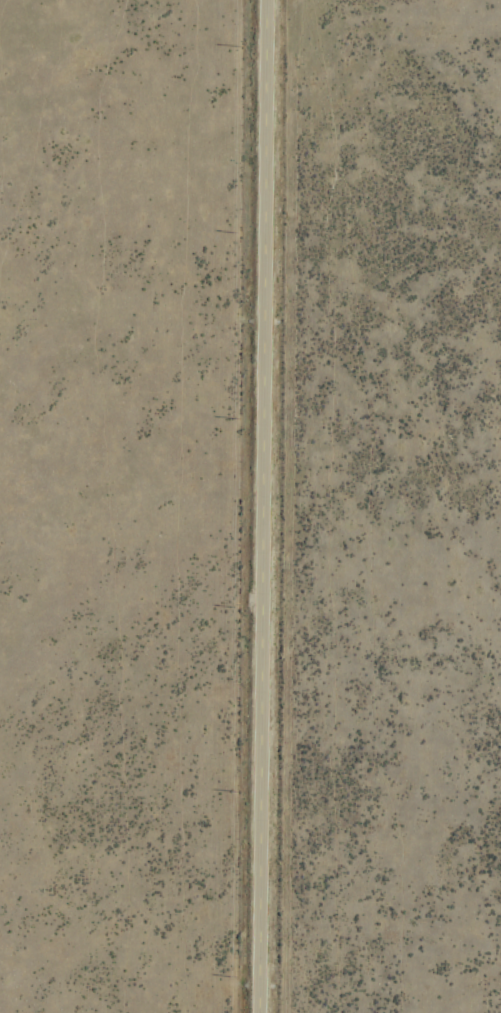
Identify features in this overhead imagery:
crop: (250, 506)
road: (257, 506)

